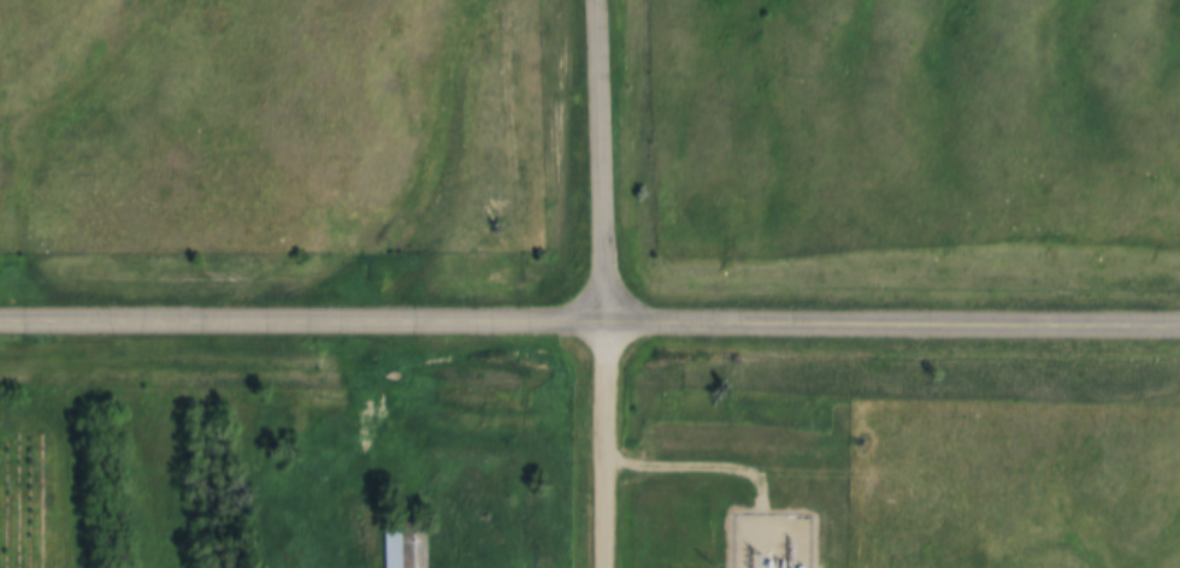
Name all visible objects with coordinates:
road: (600, 160)
road: (590, 321)
road: (602, 444)
road: (697, 466)
power substation: (772, 540)
building: (406, 545)

